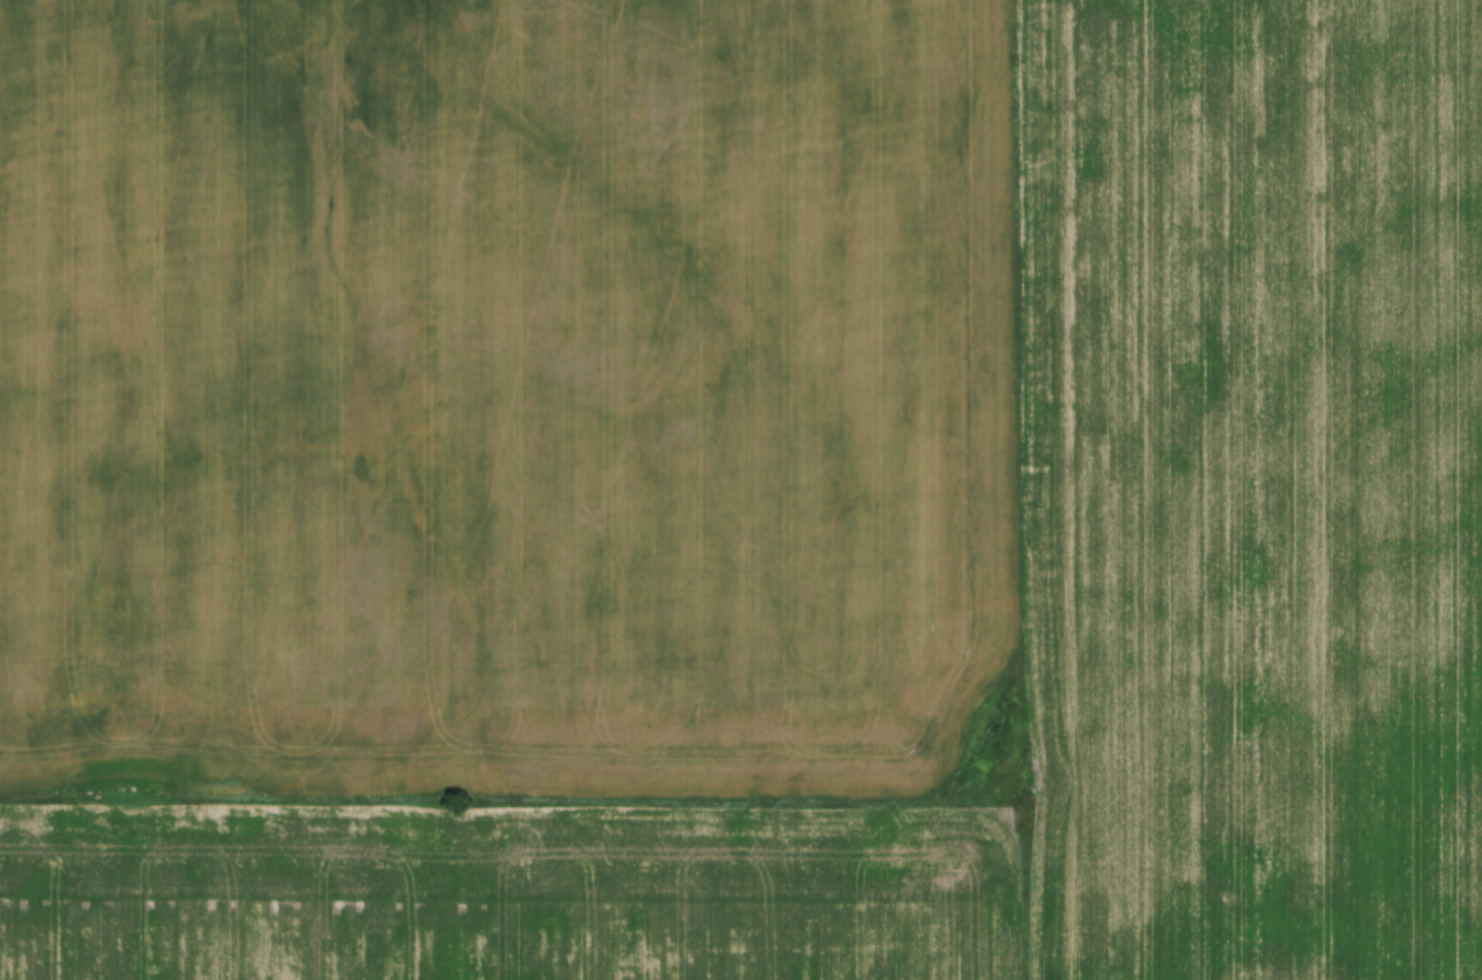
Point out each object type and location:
road: (1015, 702)
road: (467, 788)

